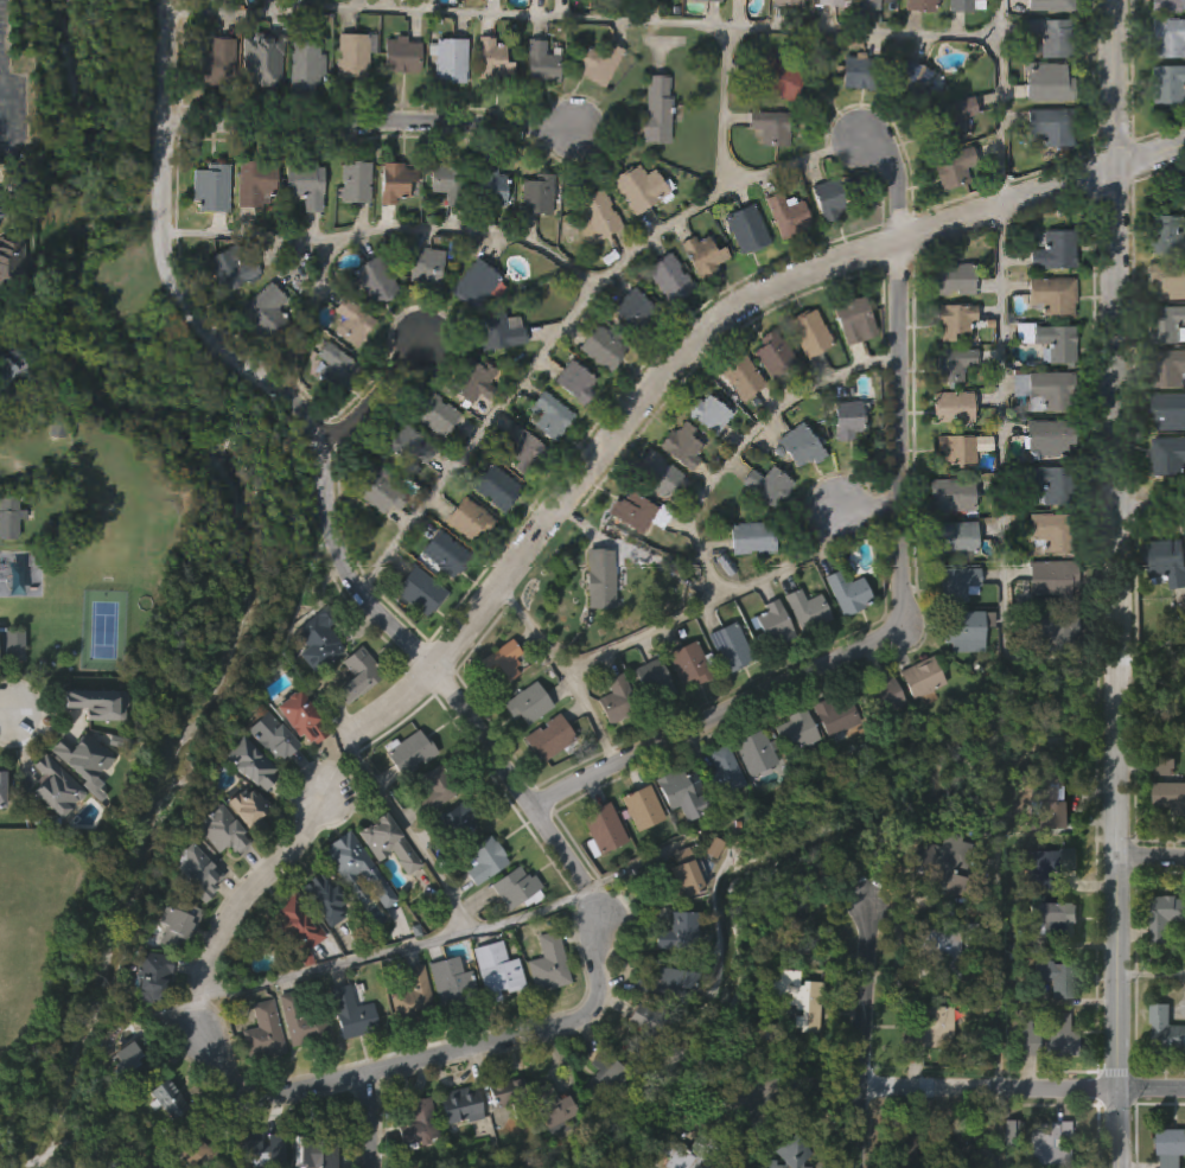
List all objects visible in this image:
building: (705, 1)
building: (785, 4)
building: (829, 4)
building: (873, 5)
building: (1052, 5)
building: (919, 6)
building: (962, 6)
building: (1167, 6)
road: (599, 17)
building: (1049, 38)
building: (1167, 39)
building: (351, 57)
building: (400, 58)
building: (266, 60)
building: (451, 60)
building: (489, 62)
building: (221, 63)
building: (543, 63)
building: (597, 65)
building: (306, 69)
building: (858, 75)
building: (776, 79)
building: (1045, 84)
building: (911, 85)
building: (1167, 87)
road: (2, 107)
road: (725, 107)
road: (1, 108)
building: (654, 113)
building: (954, 120)
road: (1000, 121)
building: (1050, 127)
building: (772, 128)
road: (371, 130)
road: (1152, 157)
building: (953, 168)
building: (352, 181)
building: (260, 183)
building: (395, 183)
building: (447, 184)
building: (308, 186)
building: (488, 187)
building: (211, 189)
building: (637, 189)
building: (535, 194)
building: (830, 199)
building: (1, 213)
building: (597, 215)
building: (785, 216)
road: (391, 228)
building: (744, 229)
building: (1165, 236)
building: (1052, 250)
building: (701, 255)
building: (11, 259)
building: (422, 268)
building: (236, 269)
building: (668, 280)
building: (950, 280)
building: (1168, 281)
building: (375, 283)
building: (473, 286)
building: (1050, 295)
building: (632, 312)
building: (267, 313)
road: (573, 317)
building: (853, 320)
building: (951, 320)
building: (352, 324)
building: (1167, 326)
building: (497, 332)
building: (808, 333)
building: (1047, 342)
building: (599, 349)
building: (772, 355)
road: (1000, 363)
building: (951, 365)
building: (332, 368)
road: (670, 368)
building: (1168, 370)
building: (6, 371)
building: (740, 377)
building: (469, 381)
building: (573, 383)
building: (1044, 390)
road: (367, 392)
building: (25, 395)
building: (951, 408)
building: (1168, 411)
building: (431, 413)
building: (706, 414)
building: (547, 416)
building: (846, 421)
building: (1049, 439)
building: (403, 445)
road: (321, 447)
building: (678, 447)
building: (799, 448)
building: (955, 449)
building: (521, 451)
building: (1168, 457)
building: (655, 473)
building: (1050, 485)
building: (765, 486)
building: (492, 487)
building: (377, 490)
building: (950, 496)
road: (693, 500)
road: (1152, 510)
building: (631, 512)
road: (869, 515)
building: (13, 516)
building: (466, 519)
building: (1050, 532)
building: (748, 538)
building: (953, 538)
building: (442, 554)
building: (1165, 562)
road: (785, 569)
road: (904, 573)
building: (600, 579)
building: (1049, 579)
building: (955, 582)
road: (1120, 583)
building: (416, 591)
building: (843, 592)
building: (803, 607)
building: (766, 624)
building: (962, 627)
building: (1053, 627)
park: (104, 630)
building: (311, 636)
building: (11, 640)
building: (726, 646)
building: (0, 650)
building: (690, 660)
building: (498, 662)
building: (355, 671)
road: (563, 672)
building: (917, 676)
building: (651, 677)
building: (881, 694)
building: (613, 698)
building: (90, 700)
road: (6, 702)
building: (523, 702)
building: (832, 713)
building: (299, 714)
building: (792, 730)
building: (269, 733)
building: (547, 736)
building: (346, 741)
building: (414, 751)
building: (751, 752)
building: (522, 754)
building: (611, 754)
building: (881, 754)
building: (87, 755)
building: (255, 762)
building: (829, 766)
building: (298, 768)
building: (720, 773)
building: (790, 781)
building: (1, 785)
building: (59, 786)
building: (266, 786)
building: (439, 787)
building: (544, 787)
building: (1166, 787)
building: (681, 791)
building: (406, 803)
building: (748, 803)
building: (1047, 805)
building: (77, 806)
building: (638, 806)
building: (1160, 818)
building: (720, 819)
building: (235, 821)
building: (461, 821)
building: (600, 828)
road: (409, 834)
building: (51, 837)
building: (429, 840)
building: (391, 842)
building: (677, 843)
building: (1168, 848)
building: (0, 854)
road: (1152, 856)
building: (241, 857)
building: (637, 857)
building: (486, 859)
building: (941, 861)
building: (1044, 864)
building: (359, 869)
building: (200, 870)
building: (451, 870)
building: (599, 877)
building: (675, 880)
building: (520, 888)
building: (791, 888)
building: (383, 893)
building: (329, 898)
building: (479, 909)
building: (938, 915)
building: (1162, 917)
building: (1052, 918)
building: (180, 923)
building: (300, 923)
road: (221, 927)
road: (461, 931)
building: (671, 931)
building: (509, 937)
building: (319, 950)
park: (47, 952)
building: (937, 953)
road: (999, 955)
building: (547, 960)
building: (1161, 968)
building: (499, 970)
building: (173, 974)
building: (293, 974)
building: (154, 975)
building: (1053, 975)
road: (1152, 975)
building: (452, 981)
building: (661, 984)
building: (413, 996)
building: (795, 997)
building: (937, 997)
building: (543, 1013)
building: (355, 1014)
building: (304, 1021)
building: (491, 1021)
building: (635, 1025)
building: (146, 1028)
building: (928, 1028)
building: (668, 1030)
building: (1164, 1030)
building: (265, 1032)
building: (446, 1034)
building: (1044, 1034)
road: (864, 1035)
building: (407, 1045)
building: (794, 1049)
road: (457, 1053)
building: (346, 1061)
building: (123, 1066)
building: (633, 1067)
building: (297, 1070)
building: (930, 1074)
building: (597, 1076)
road: (804, 1079)
building: (1162, 1080)
building: (259, 1083)
building: (1053, 1085)
road: (1022, 1087)
building: (505, 1090)
building: (1022, 1090)
building: (164, 1097)
building: (550, 1102)
building: (121, 1106)
building: (455, 1106)
road: (365, 1121)
building: (601, 1122)
building: (414, 1123)
road: (1000, 1128)
building: (1040, 1142)
building: (904, 1143)
building: (190, 1145)
building: (1170, 1145)
building: (958, 1147)
building: (163, 1149)
building: (269, 1150)
building: (686, 1151)
building: (320, 1153)
building: (785, 1153)
building: (455, 1154)
building: (550, 1156)
building: (415, 1159)

